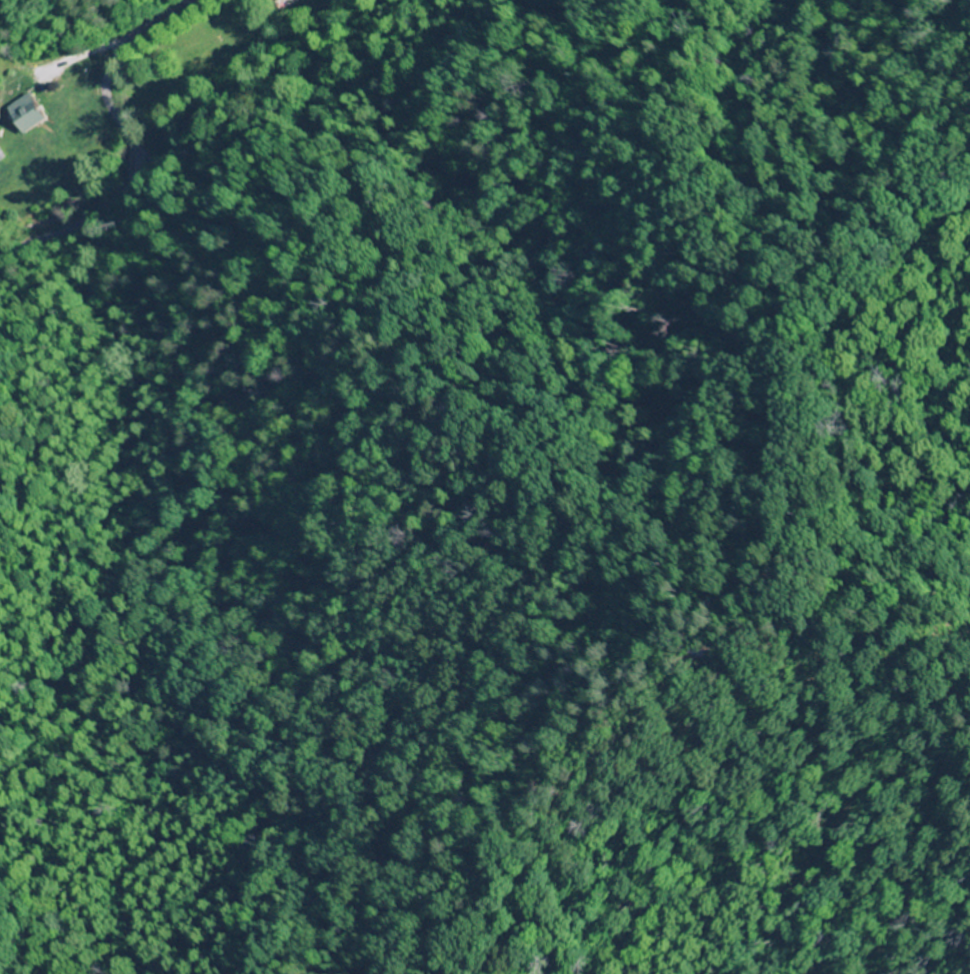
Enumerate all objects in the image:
building: (288, 1)
building: (252, 52)
building: (29, 112)
road: (129, 143)

